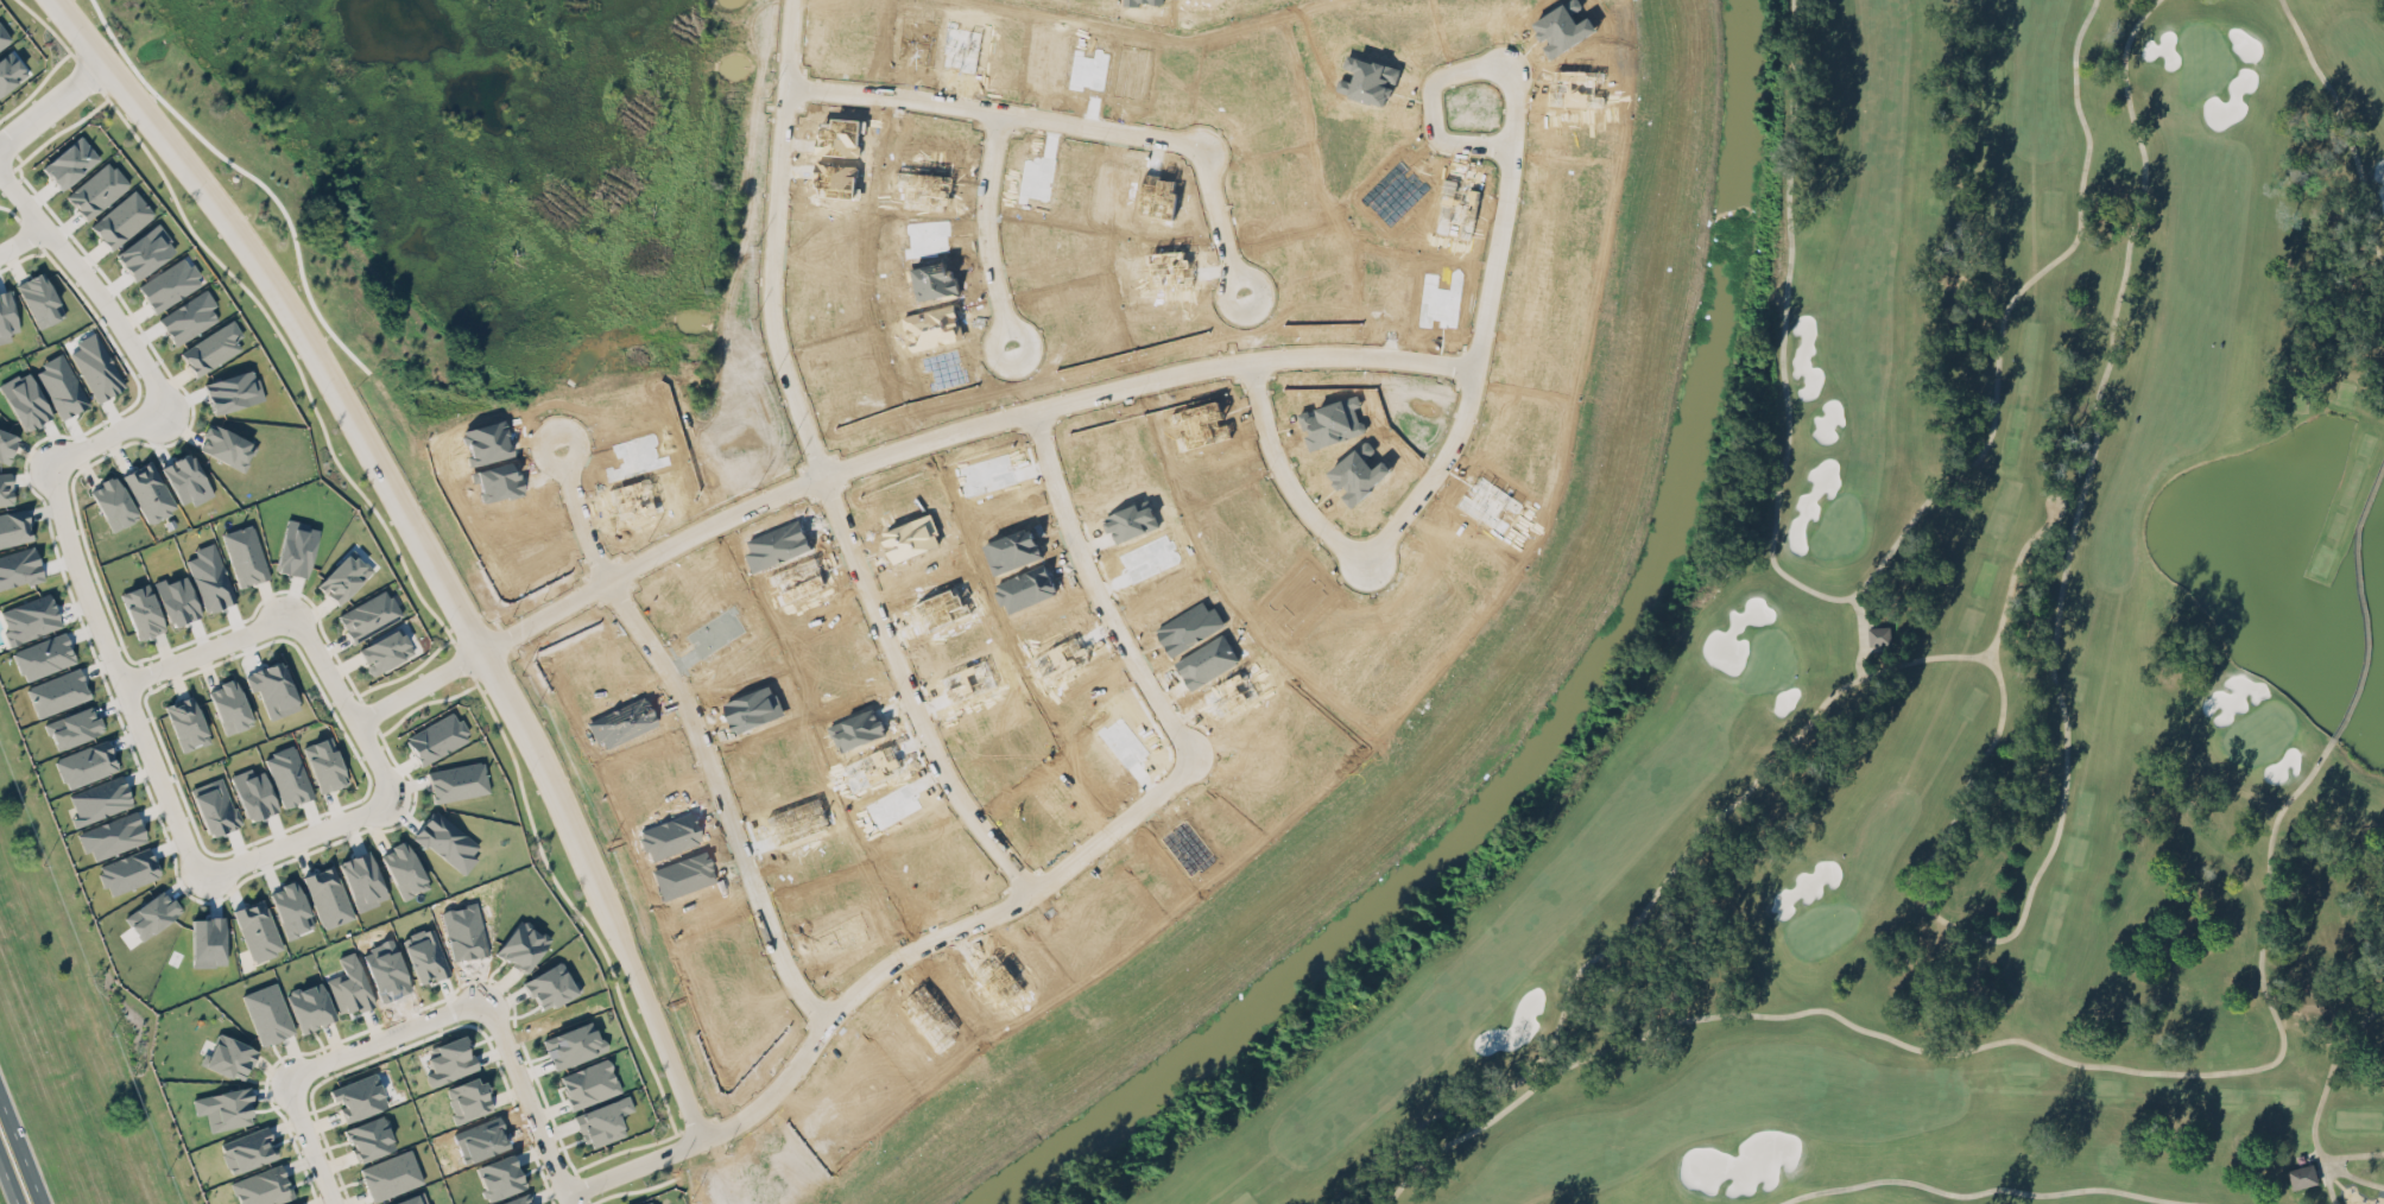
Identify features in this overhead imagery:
building: (2, 39)
building: (10, 71)
road: (51, 103)
road: (1056, 126)
road: (1511, 126)
building: (69, 161)
road: (251, 173)
building: (96, 190)
building: (121, 218)
road: (986, 221)
road: (20, 239)
road: (772, 242)
building: (145, 252)
building: (169, 284)
building: (39, 299)
road: (1223, 300)
building: (7, 316)
building: (189, 317)
road: (1001, 325)
building: (211, 348)
building: (96, 366)
road: (1471, 384)
building: (61, 386)
building: (232, 391)
building: (25, 400)
road: (132, 423)
building: (6, 444)
building: (226, 445)
road: (563, 467)
building: (185, 479)
building: (5, 488)
building: (148, 490)
building: (113, 502)
road: (583, 525)
building: (13, 527)
building: (244, 555)
building: (194, 558)
road: (650, 559)
building: (19, 568)
building: (343, 576)
road: (457, 607)
building: (141, 610)
building: (368, 615)
building: (29, 617)
building: (1879, 633)
building: (384, 651)
building: (43, 655)
road: (418, 686)
building: (272, 689)
park: (1954, 689)
building: (57, 692)
building: (229, 705)
river: (1569, 712)
building: (186, 723)
building: (75, 727)
building: (436, 737)
building: (86, 763)
building: (324, 763)
building: (287, 775)
building: (457, 780)
road: (1165, 791)
building: (253, 793)
building: (99, 799)
road: (377, 800)
road: (721, 804)
building: (215, 807)
building: (112, 835)
building: (445, 841)
building: (403, 869)
building: (118, 873)
building: (362, 880)
building: (327, 896)
building: (291, 910)
building: (151, 914)
building: (257, 929)
building: (521, 945)
building: (423, 955)
building: (549, 984)
building: (348, 986)
road: (849, 1000)
building: (310, 1006)
building: (266, 1013)
road: (422, 1022)
building: (229, 1057)
building: (449, 1060)
building: (588, 1083)
building: (358, 1096)
building: (467, 1098)
building: (368, 1138)
road: (23, 1146)
building: (248, 1149)
building: (390, 1174)
building: (2302, 1176)
road: (10, 1177)
building: (261, 1186)
building: (410, 1199)
building: (517, 1199)
building: (291, 1203)
building: (649, 1203)

